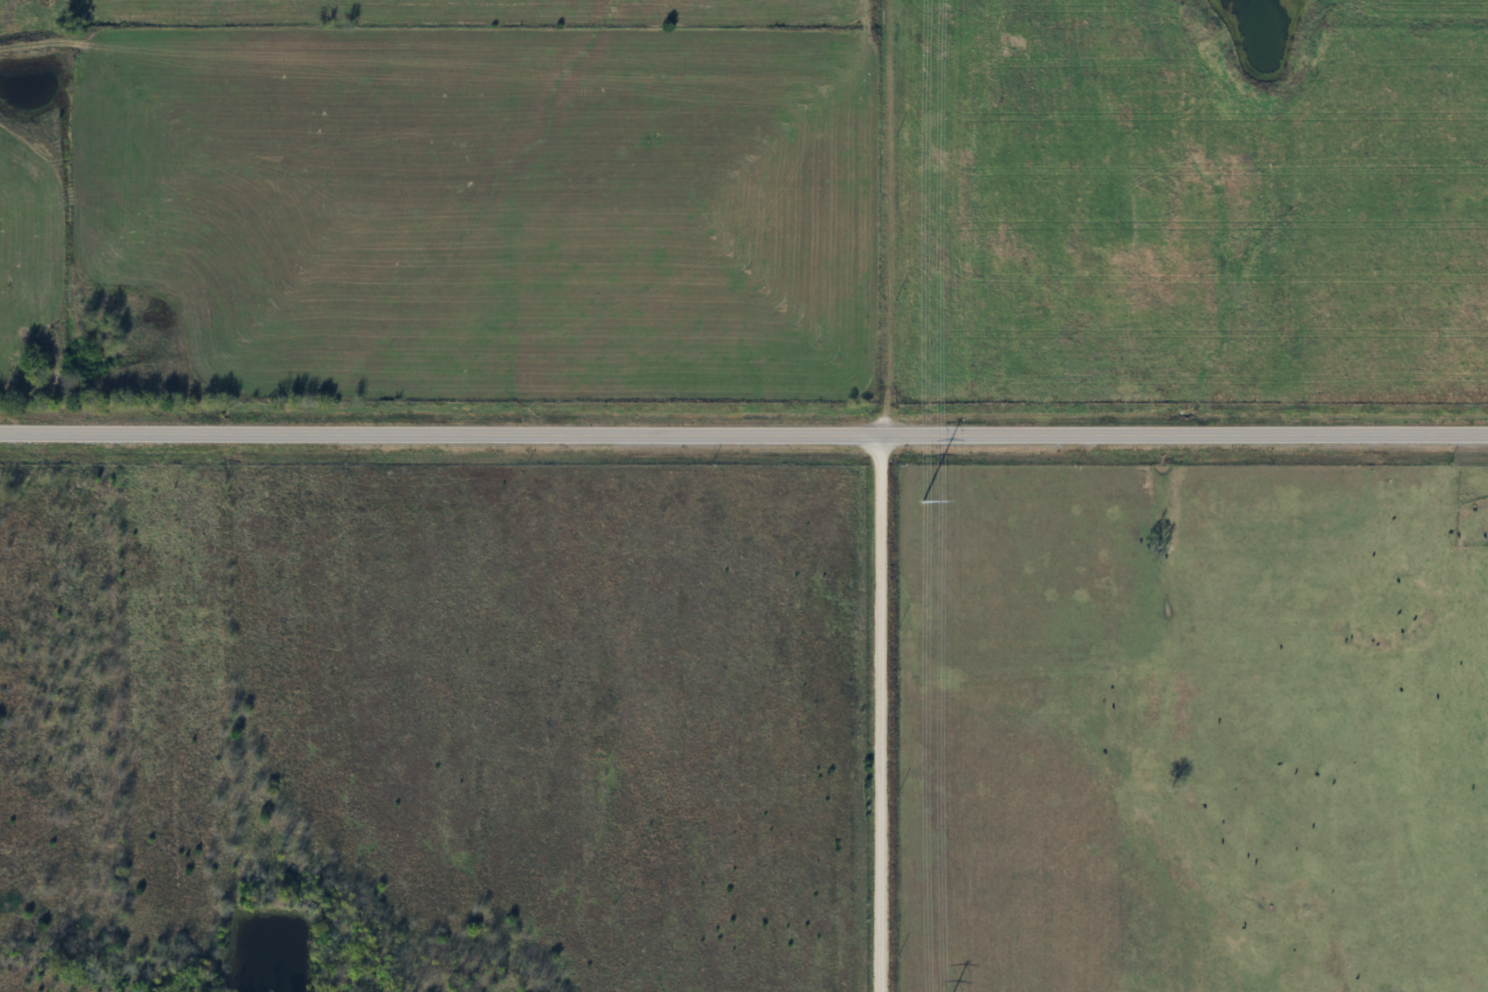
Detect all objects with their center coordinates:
road: (890, 217)
road: (743, 433)
power tower: (920, 502)
road: (881, 713)

